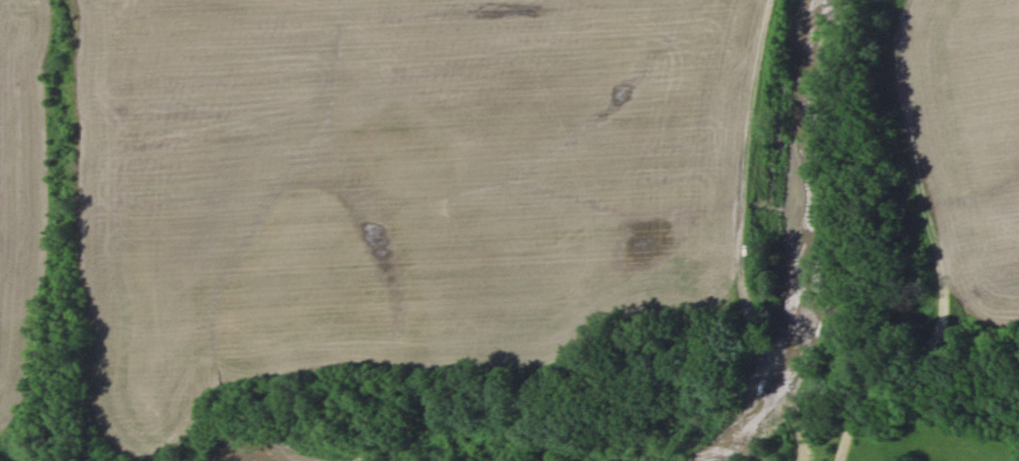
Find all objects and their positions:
road: (936, 246)

